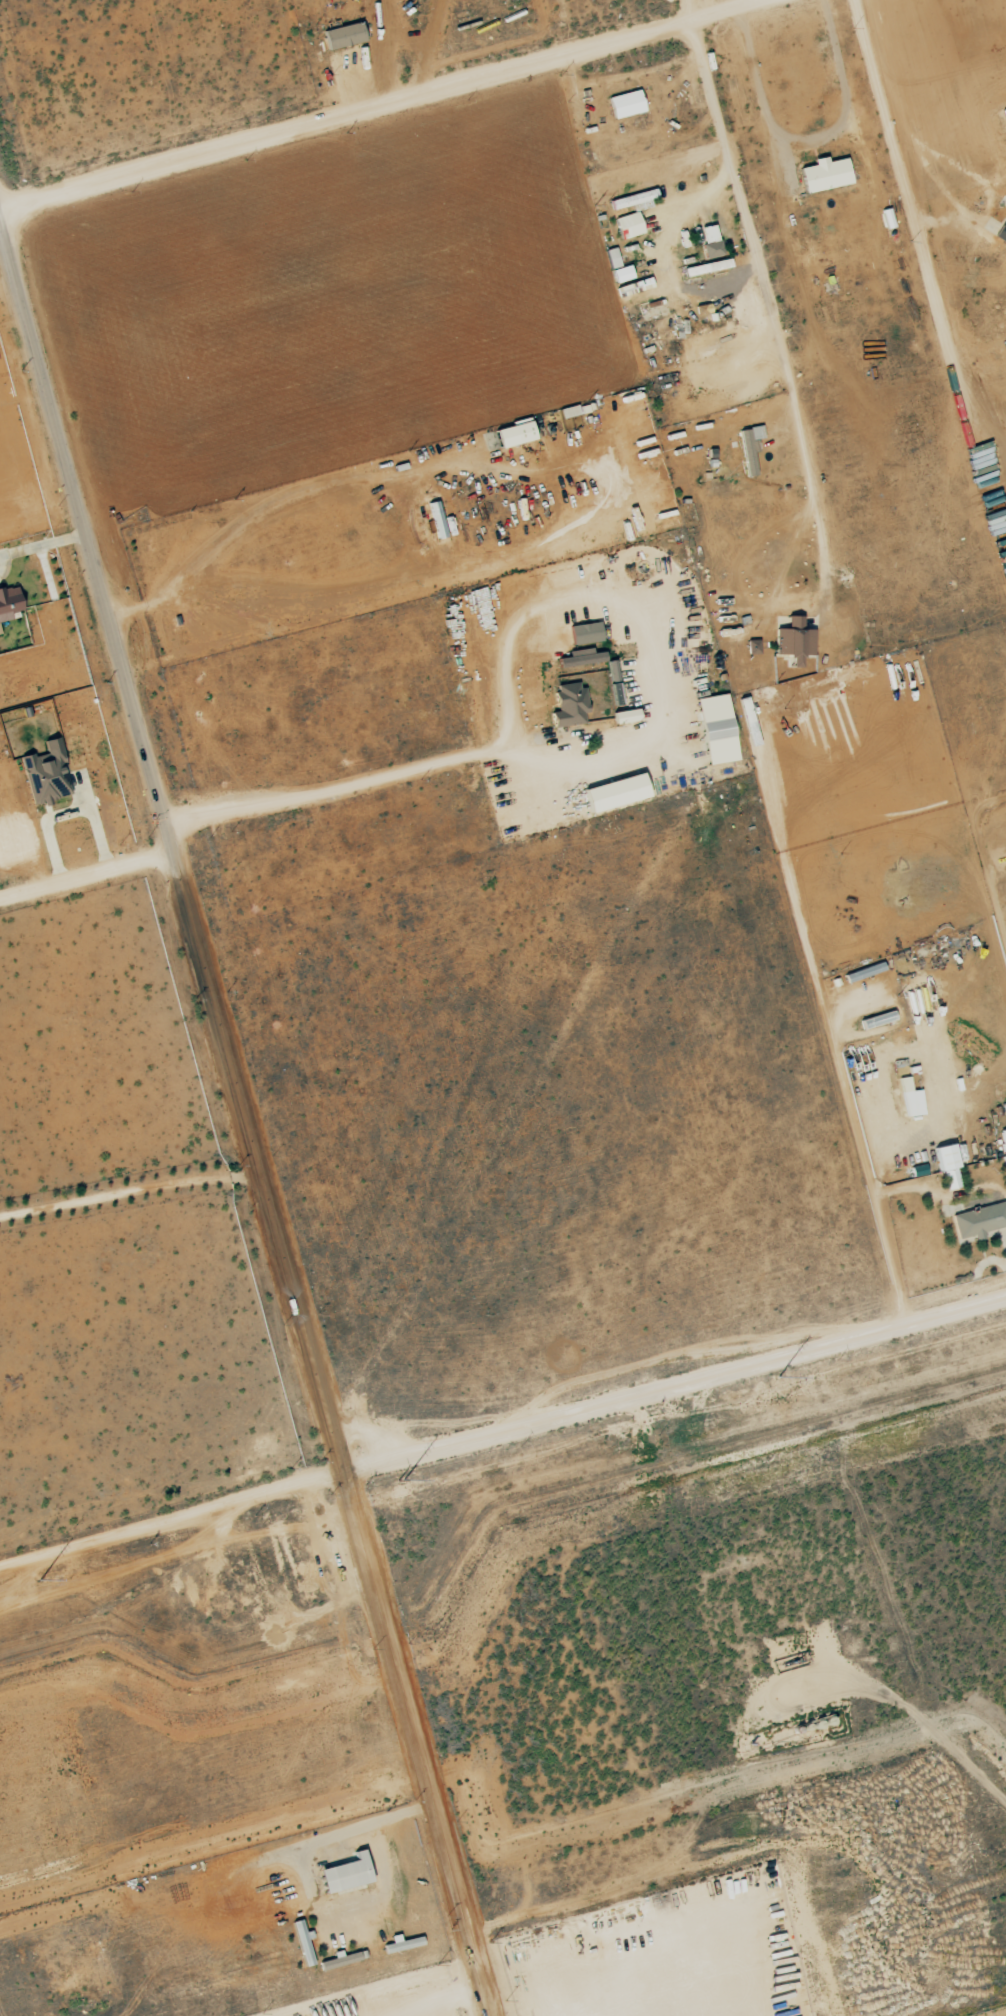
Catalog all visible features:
road: (685, 9)
building: (346, 35)
road: (428, 46)
road: (351, 86)
road: (378, 101)
building: (628, 103)
building: (1005, 113)
building: (827, 174)
building: (637, 199)
building: (630, 224)
building: (1002, 233)
building: (712, 240)
building: (614, 256)
building: (709, 266)
building: (624, 273)
building: (570, 410)
building: (517, 433)
building: (751, 446)
building: (438, 518)
building: (10, 602)
building: (587, 632)
building: (796, 639)
building: (754, 646)
building: (583, 656)
building: (571, 703)
building: (719, 728)
road: (603, 758)
building: (48, 773)
building: (618, 791)
road: (85, 871)
building: (912, 1098)
road: (249, 1128)
building: (950, 1166)
road: (131, 1191)
building: (980, 1220)
power tower: (766, 1378)
road: (503, 1436)
power tower: (393, 1481)
power tower: (33, 1580)
road: (926, 1727)
building: (348, 1872)
building: (304, 1941)
road: (363, 1985)
road: (443, 1999)

